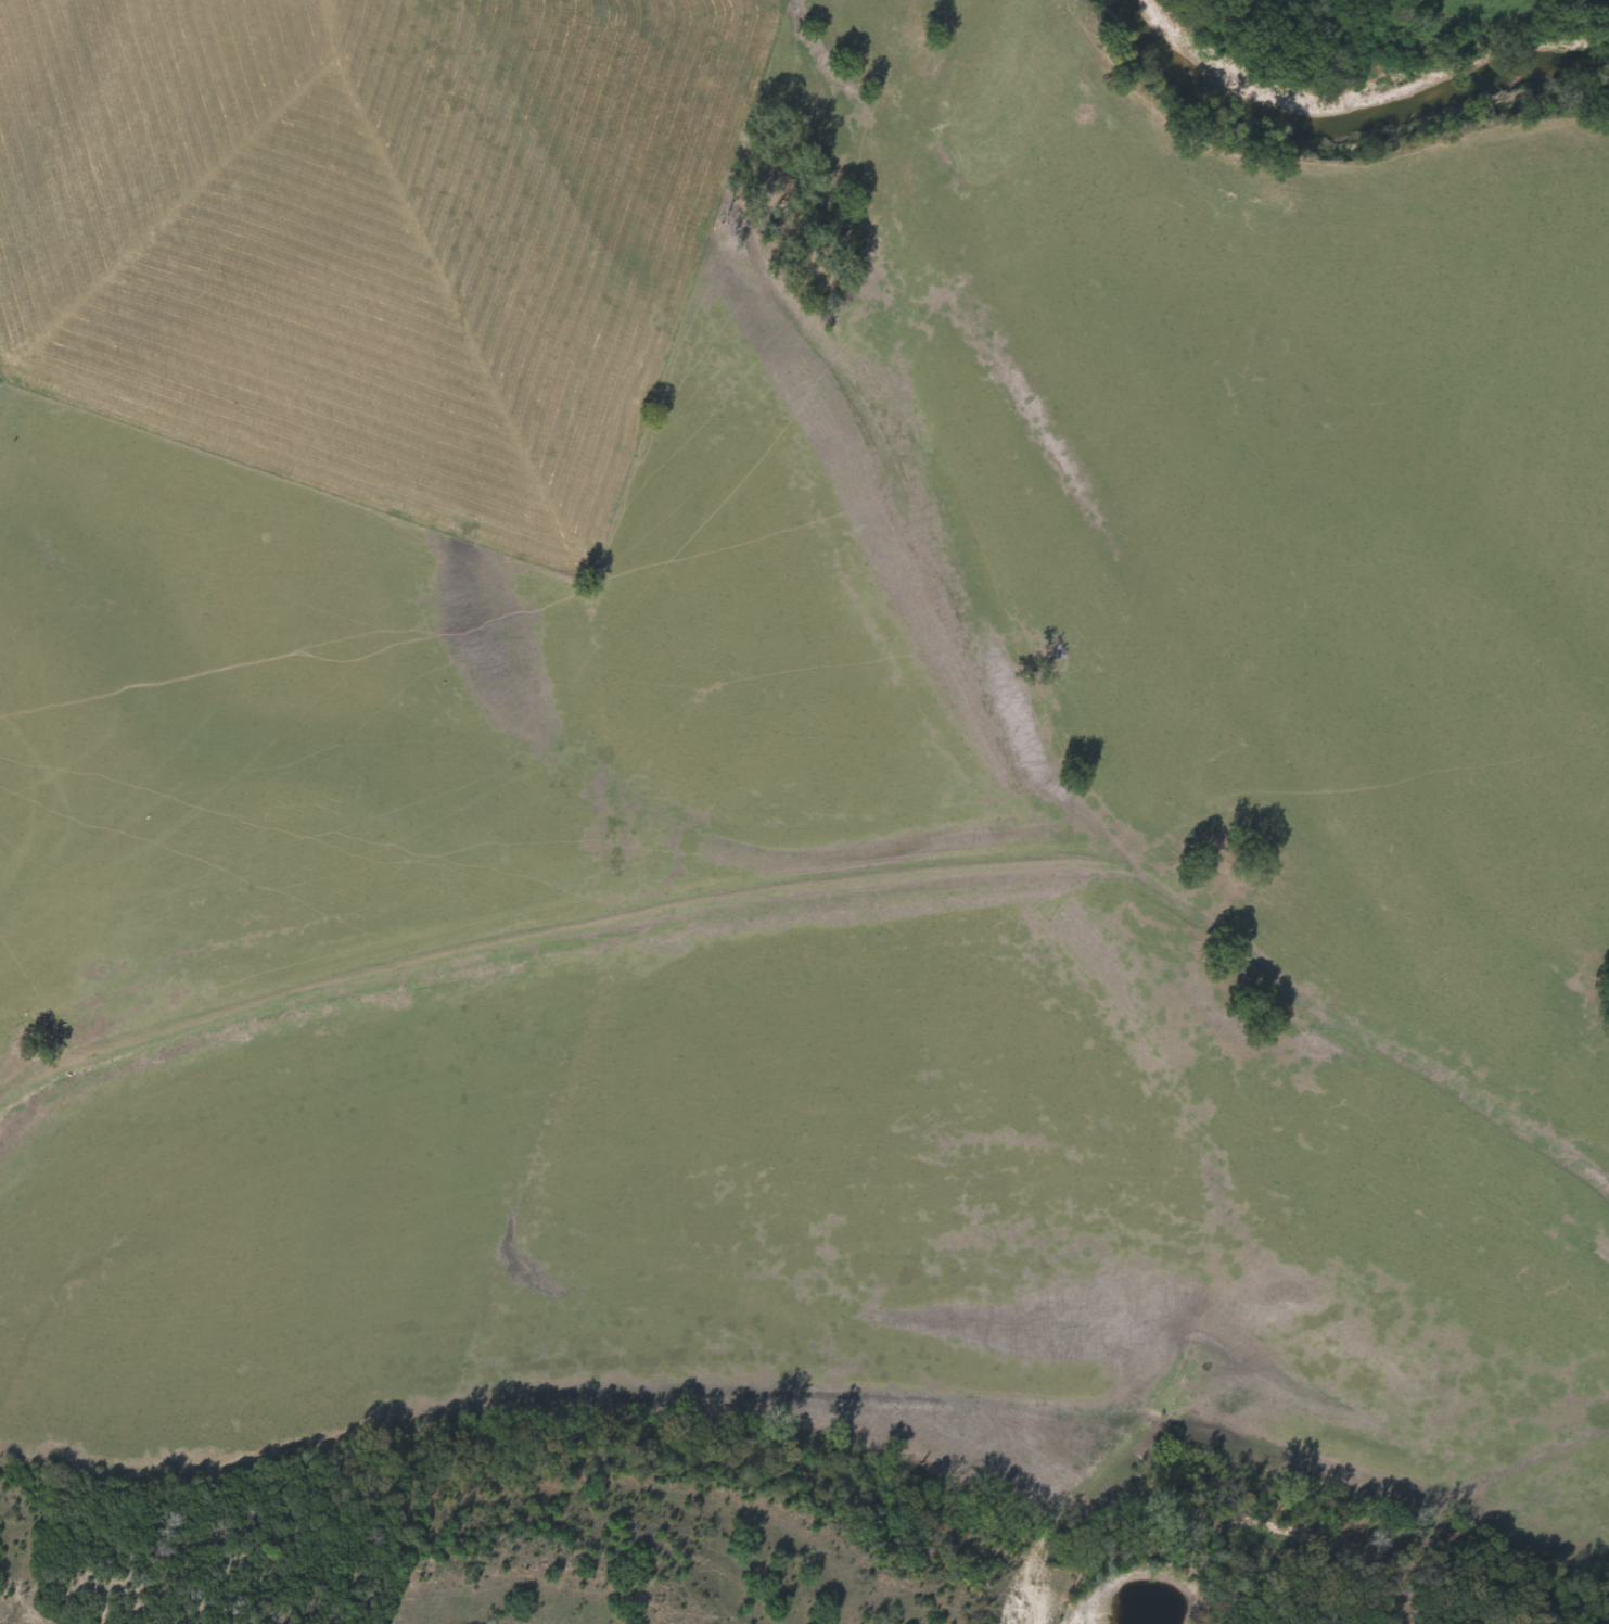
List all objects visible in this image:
road: (1116, 1571)

